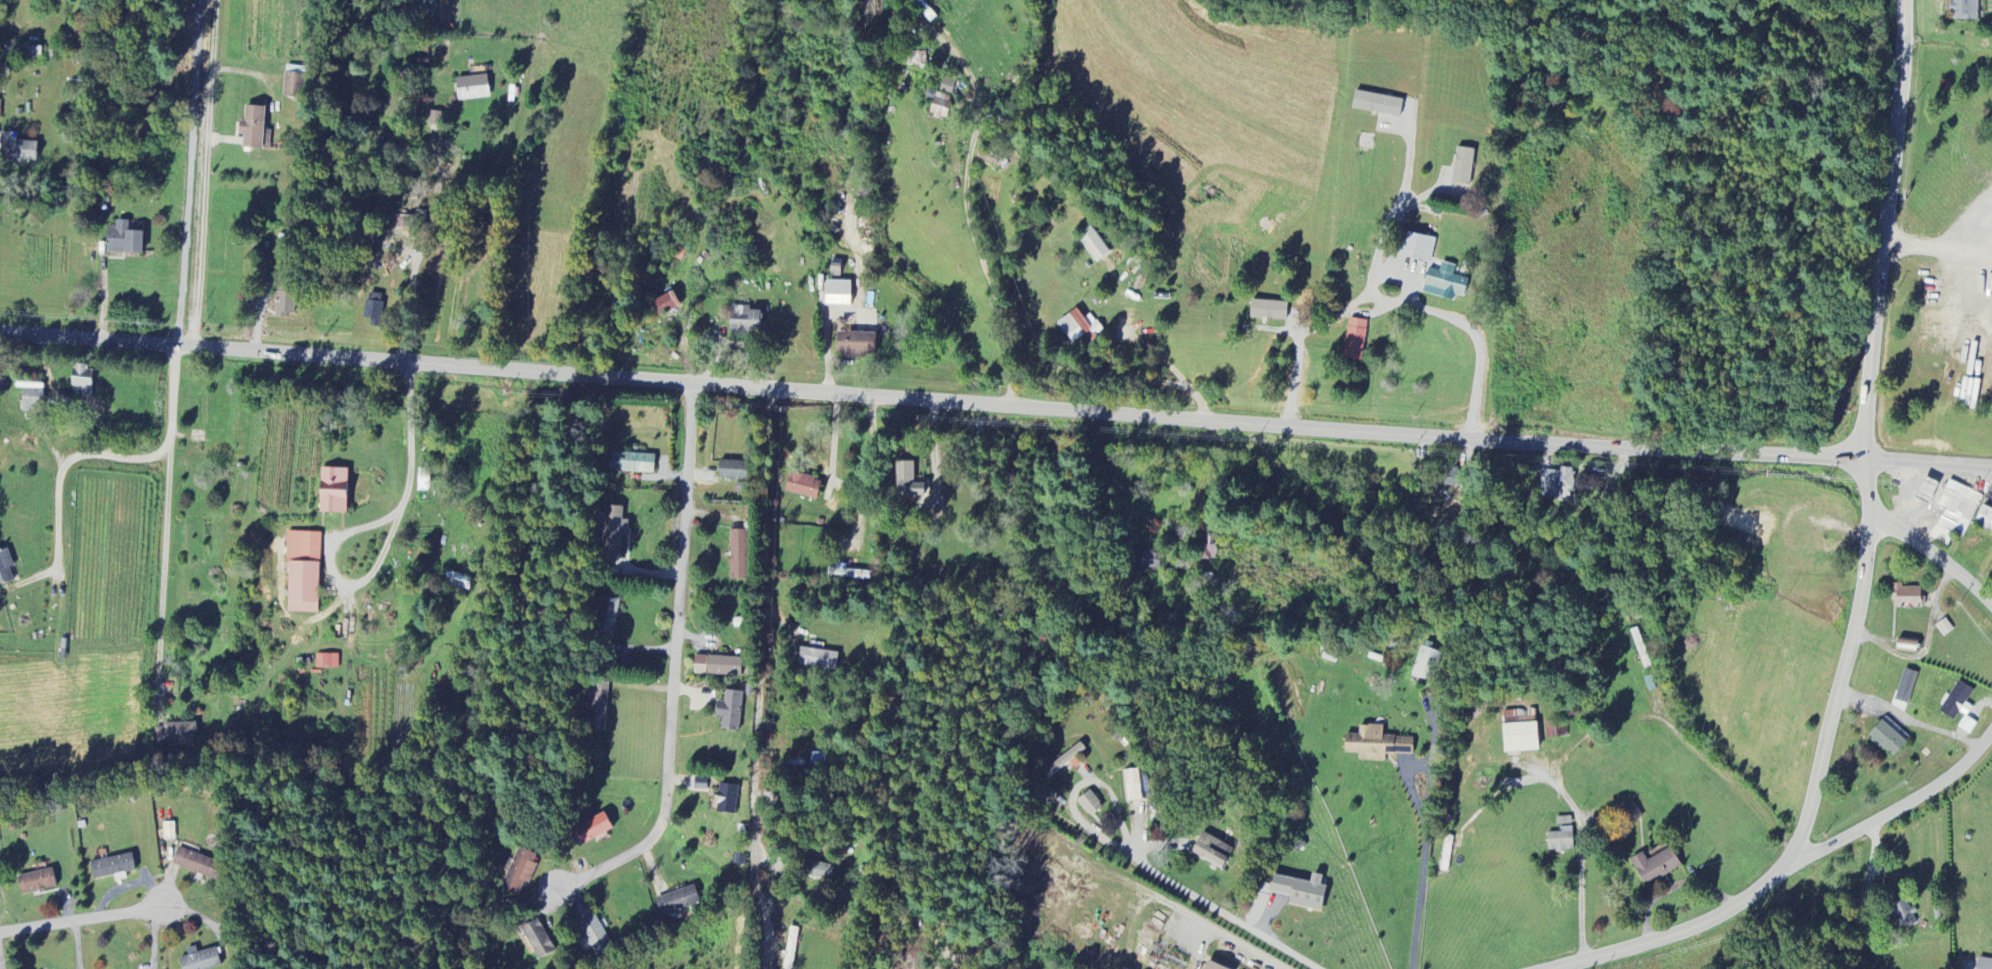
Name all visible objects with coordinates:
building: (426, 6)
building: (924, 10)
building: (1964, 10)
building: (915, 59)
building: (293, 85)
building: (946, 87)
building: (472, 88)
building: (1377, 104)
building: (940, 107)
building: (0, 119)
building: (252, 128)
building: (17, 150)
building: (1462, 166)
road: (203, 174)
building: (122, 239)
road: (416, 244)
building: (1093, 244)
building: (1416, 247)
road: (1938, 247)
road: (981, 261)
building: (1444, 282)
road: (103, 292)
building: (837, 293)
road: (1387, 302)
building: (284, 303)
building: (664, 304)
building: (1266, 310)
building: (744, 320)
building: (1078, 326)
road: (1320, 326)
road: (1124, 333)
road: (828, 338)
building: (1355, 340)
building: (855, 344)
building: (82, 381)
road: (66, 398)
building: (31, 399)
road: (995, 404)
road: (934, 451)
road: (138, 458)
building: (631, 463)
building: (732, 471)
building: (907, 481)
building: (1556, 484)
building: (802, 486)
building: (332, 491)
road: (55, 508)
building: (1955, 513)
road: (163, 517)
building: (1985, 519)
road: (363, 527)
building: (611, 530)
building: (1209, 550)
building: (739, 555)
road: (1932, 558)
building: (1147, 560)
road: (1865, 566)
building: (5, 567)
building: (302, 572)
building: (460, 584)
building: (1906, 597)
building: (606, 617)
building: (1907, 646)
building: (817, 660)
building: (326, 662)
building: (1422, 664)
building: (717, 666)
road: (675, 678)
road: (756, 678)
building: (1905, 687)
building: (1959, 707)
building: (597, 708)
building: (729, 711)
road: (1909, 720)
building: (1555, 731)
road: (1675, 731)
building: (175, 734)
building: (1519, 735)
building: (1888, 738)
building: (1375, 745)
building: (1066, 762)
building: (700, 784)
road: (1079, 786)
building: (1133, 786)
road: (1410, 790)
building: (727, 799)
building: (1089, 804)
road: (1899, 810)
building: (1631, 814)
building: (1563, 822)
building: (591, 831)
building: (169, 832)
building: (1559, 841)
road: (1580, 848)
building: (1209, 851)
building: (192, 863)
building: (1655, 866)
building: (111, 867)
building: (520, 871)
building: (819, 871)
building: (36, 882)
road: (1420, 889)
building: (1300, 892)
road: (1863, 894)
building: (676, 901)
road: (1227, 915)
building: (1902, 915)
road: (168, 920)
building: (588, 928)
building: (540, 941)
road: (1245, 947)
building: (791, 948)
building: (199, 960)
building: (1984, 964)
building: (1211, 966)

